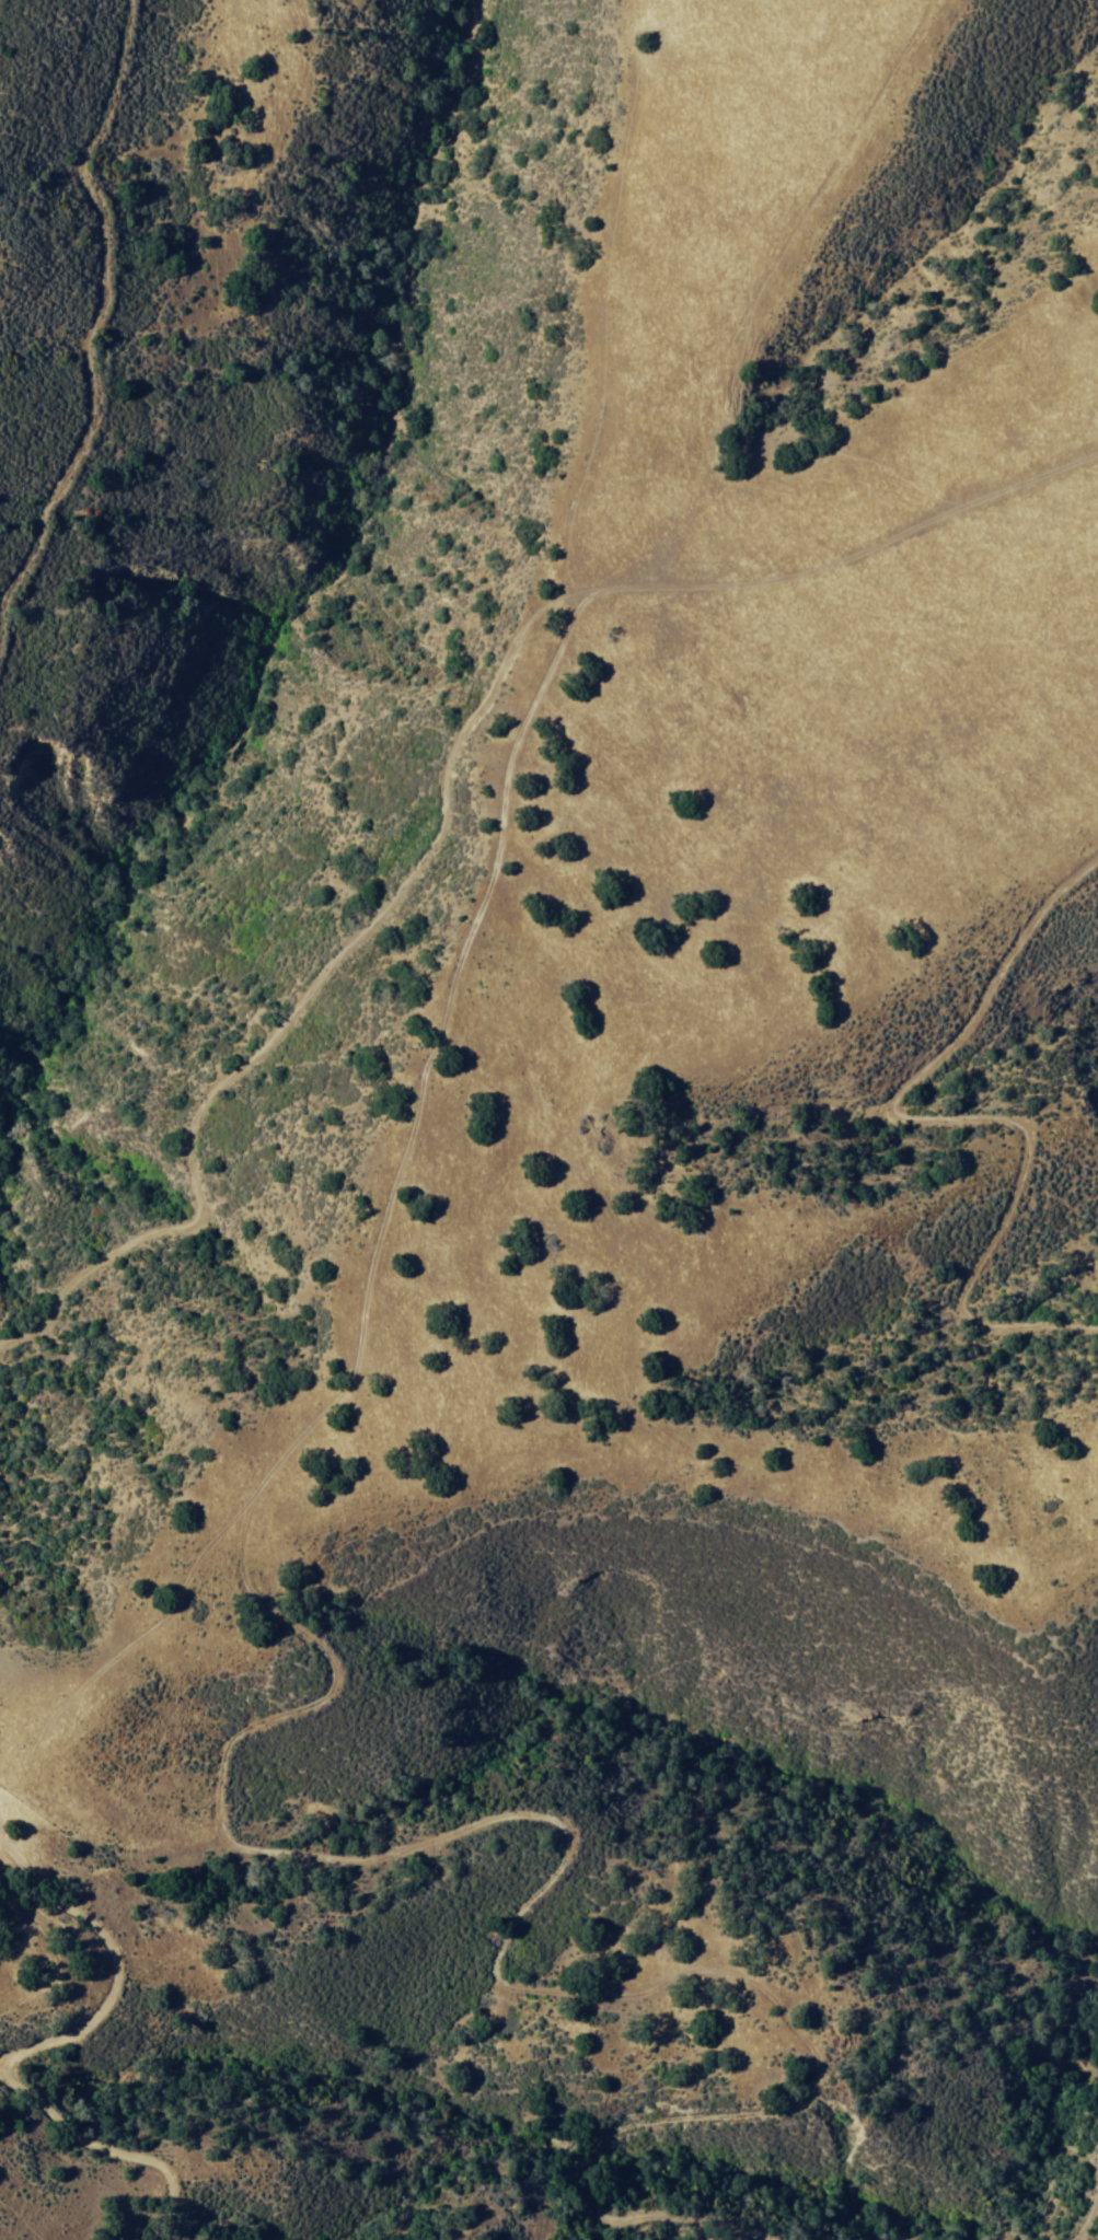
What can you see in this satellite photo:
road: (425, 803)
road: (1036, 1119)
road: (370, 1737)
road: (35, 2069)

